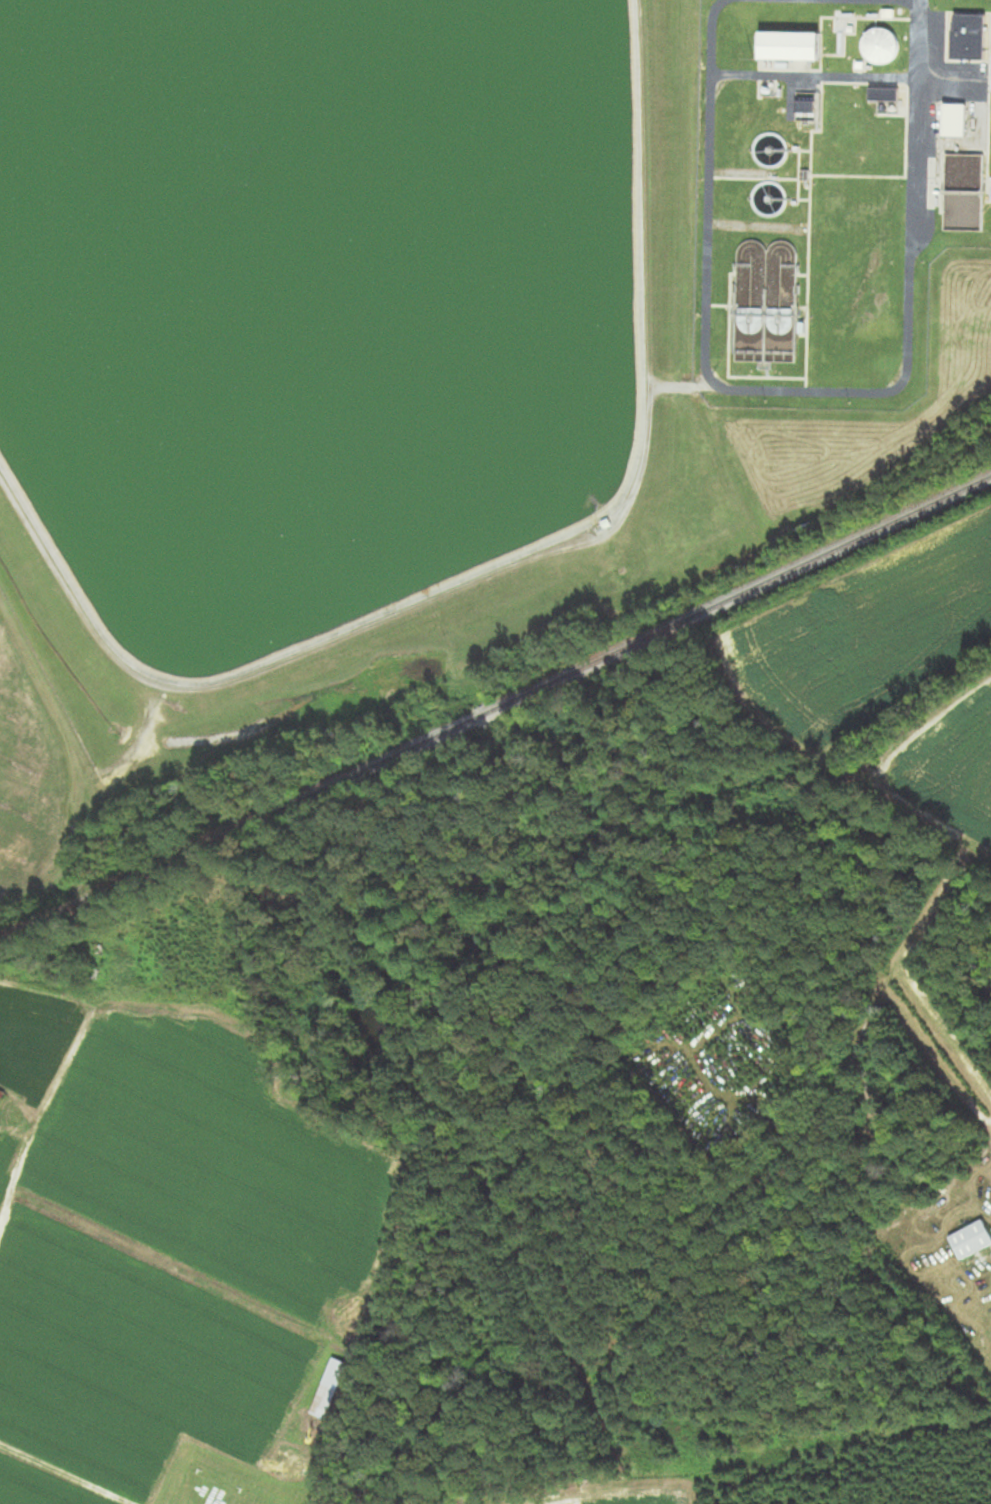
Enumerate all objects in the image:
building: (969, 38)
building: (790, 47)
building: (881, 47)
building: (885, 96)
building: (809, 108)
building: (965, 193)
building: (766, 303)
railway: (495, 708)
building: (972, 1239)

